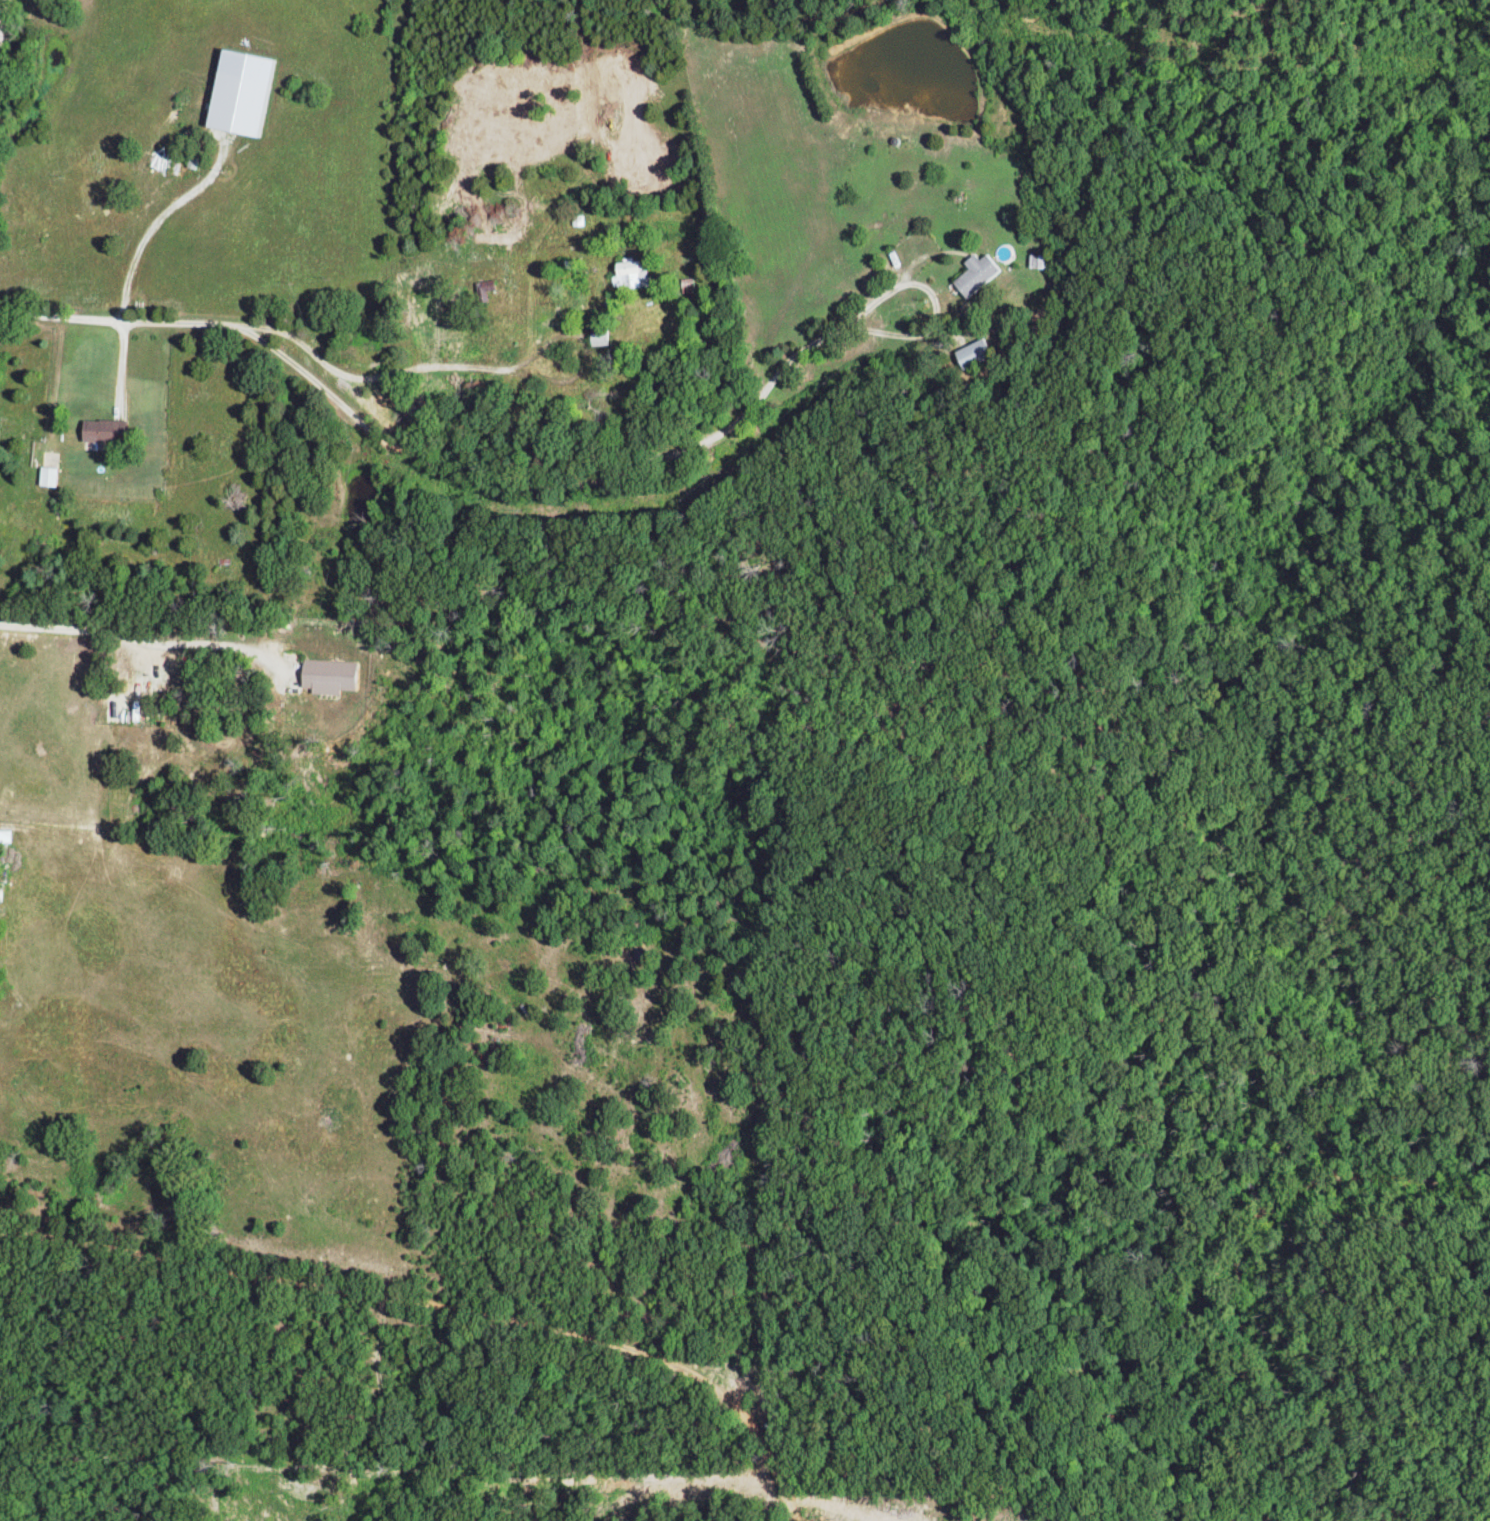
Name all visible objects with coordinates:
building: (244, 93)
building: (981, 273)
building: (635, 276)
road: (259, 349)
building: (105, 429)
building: (53, 475)
road: (469, 499)
building: (333, 675)
road: (409, 1303)

